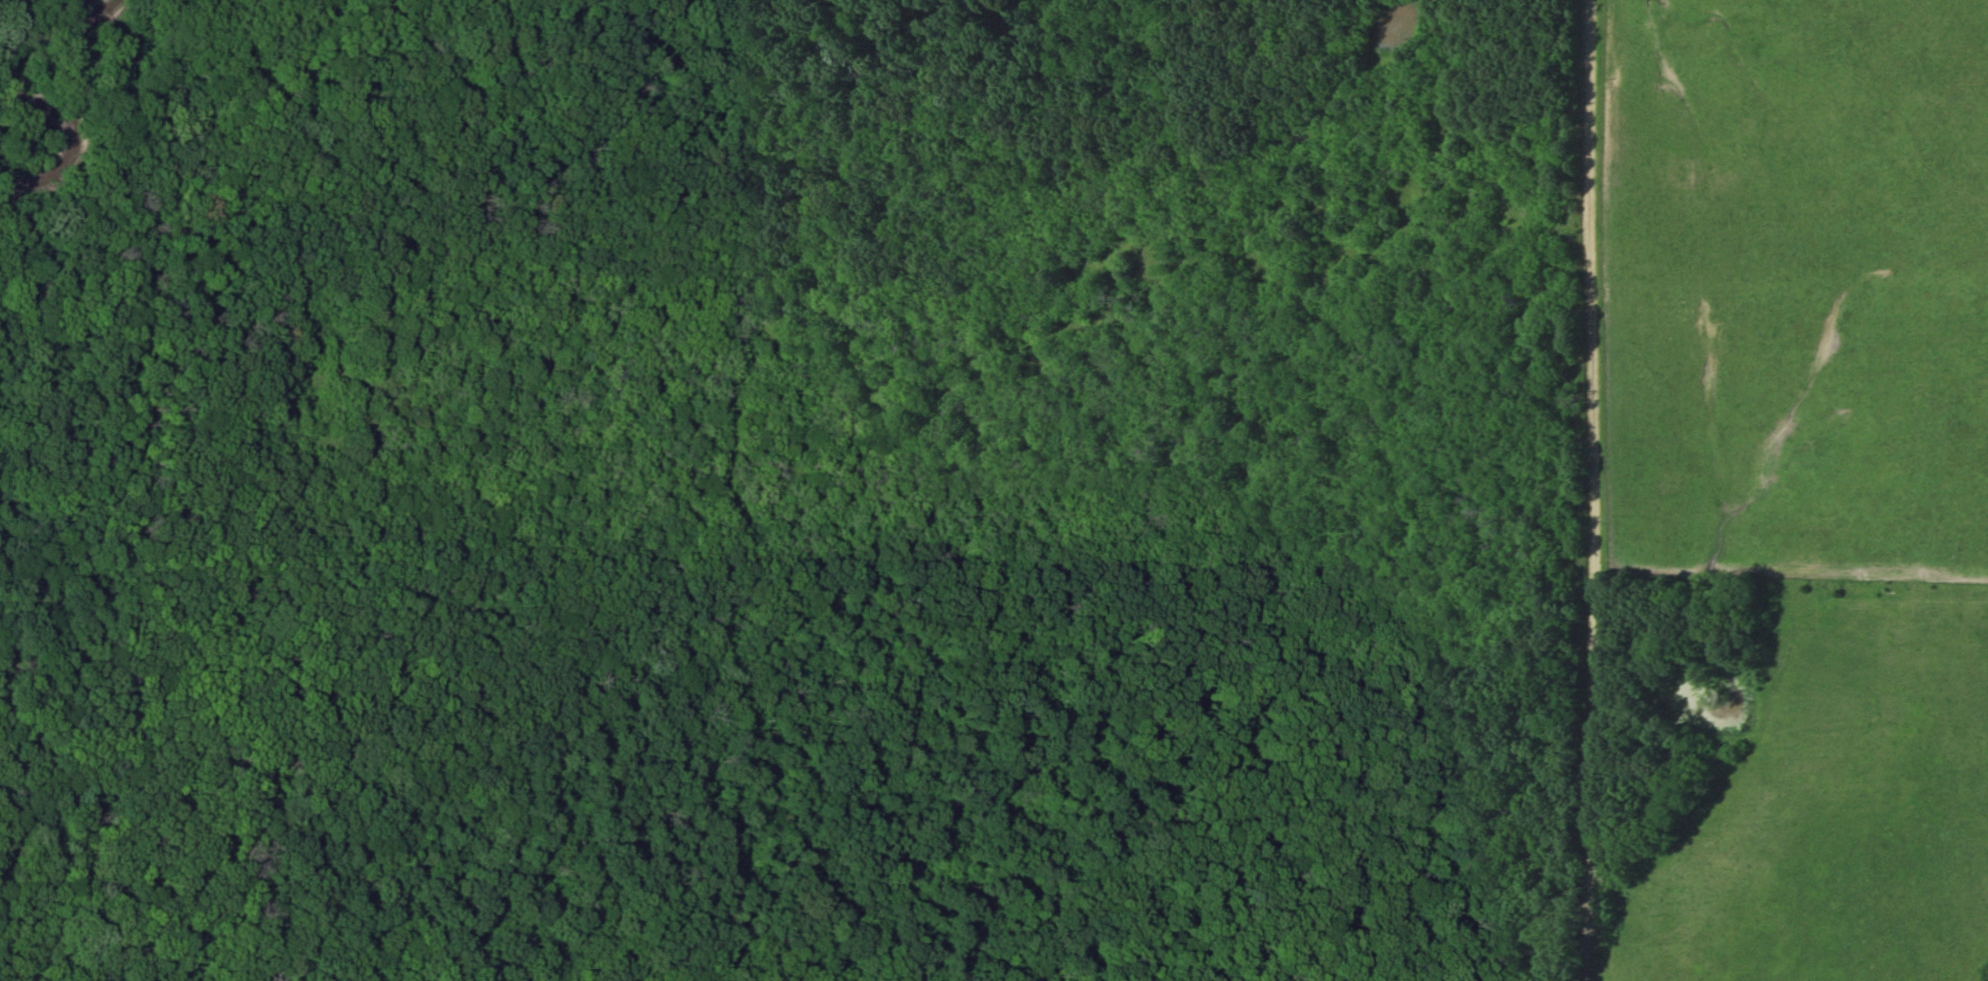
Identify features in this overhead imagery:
road: (1592, 490)

